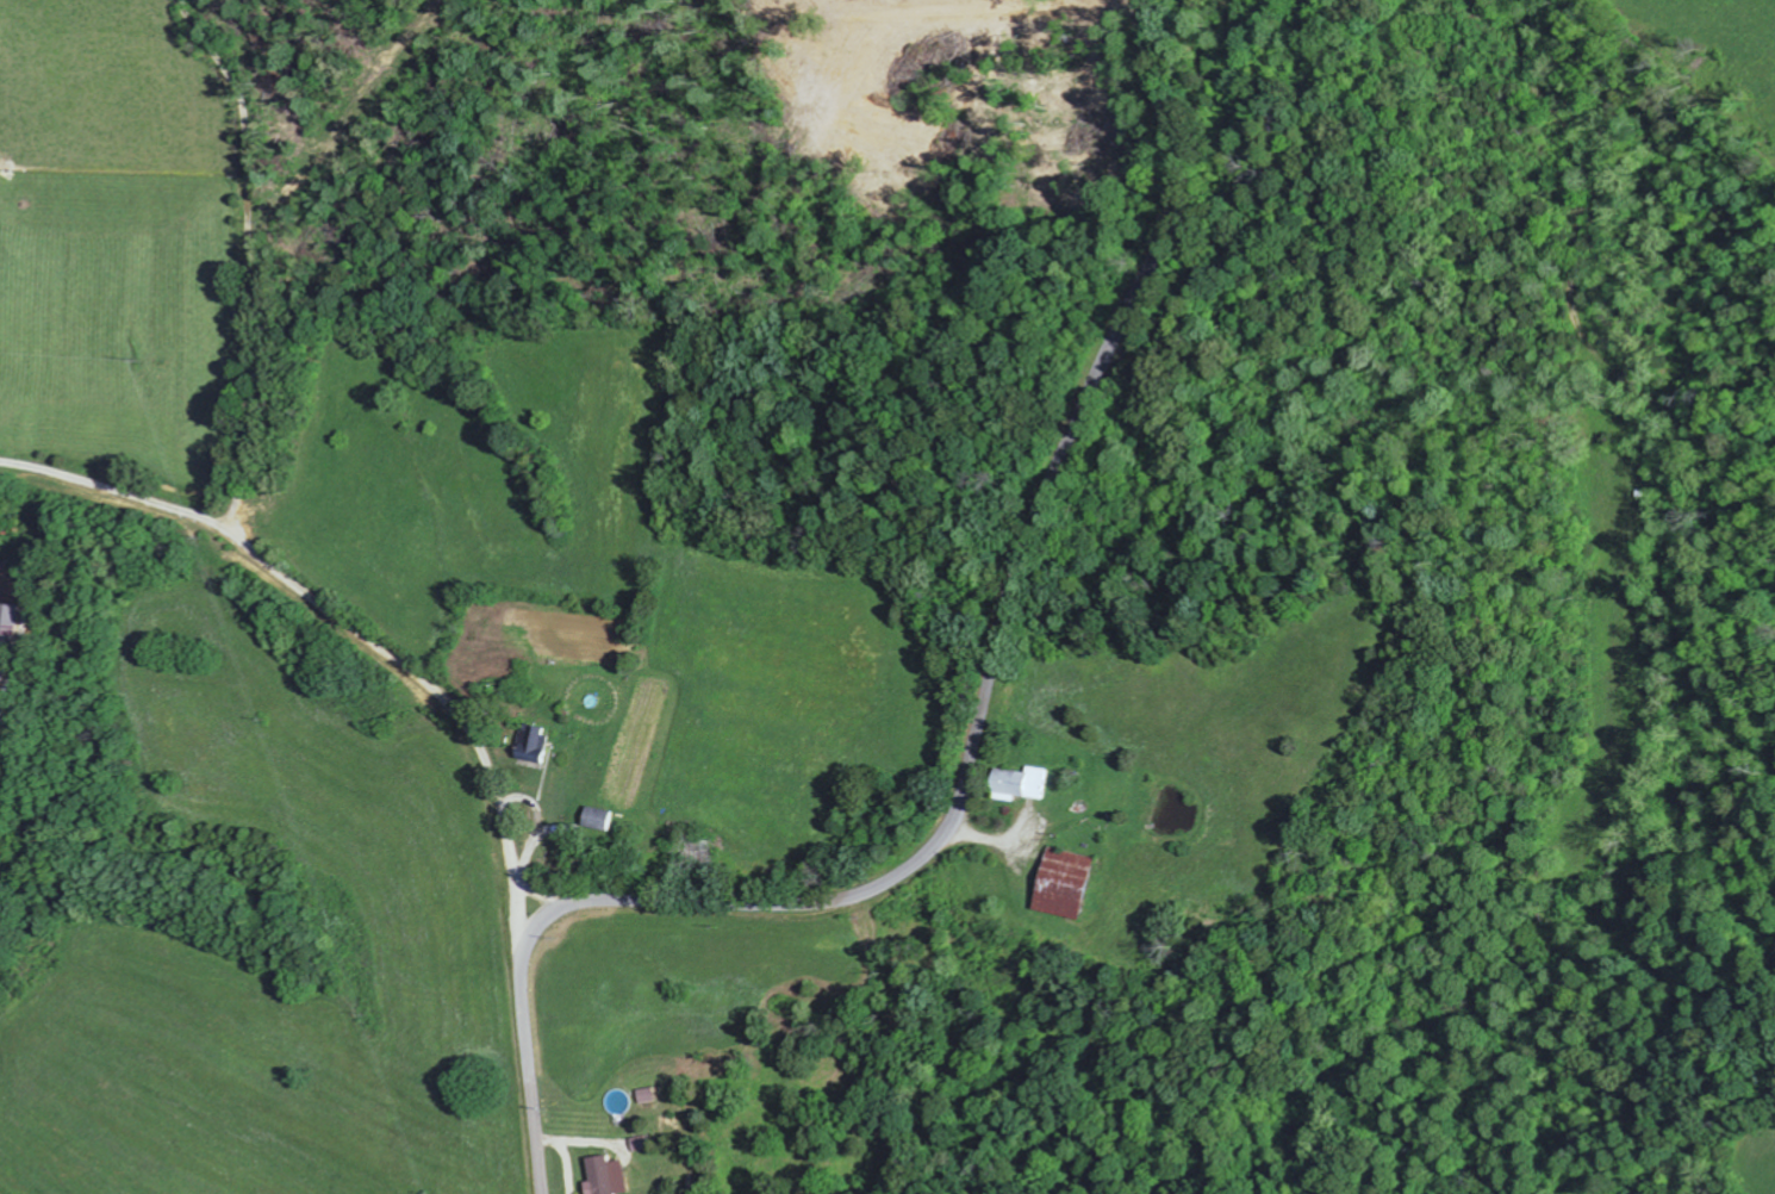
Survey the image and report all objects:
road: (117, 484)
road: (222, 529)
building: (540, 745)
road: (971, 752)
building: (1026, 784)
building: (604, 820)
building: (1072, 884)
building: (648, 1096)
building: (643, 1144)
building: (611, 1176)

